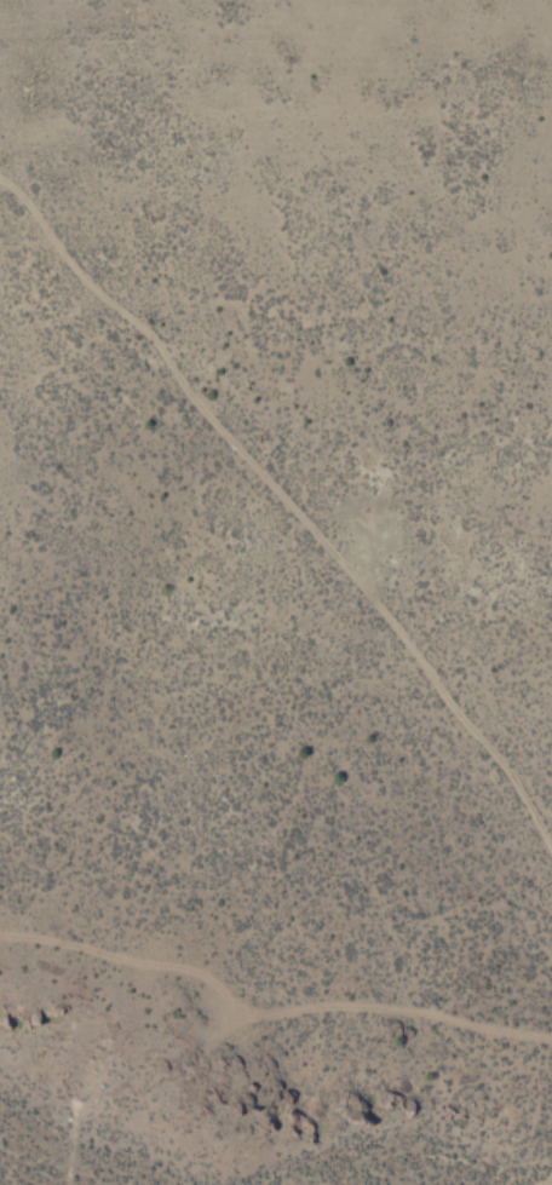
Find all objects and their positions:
road: (546, 1180)

